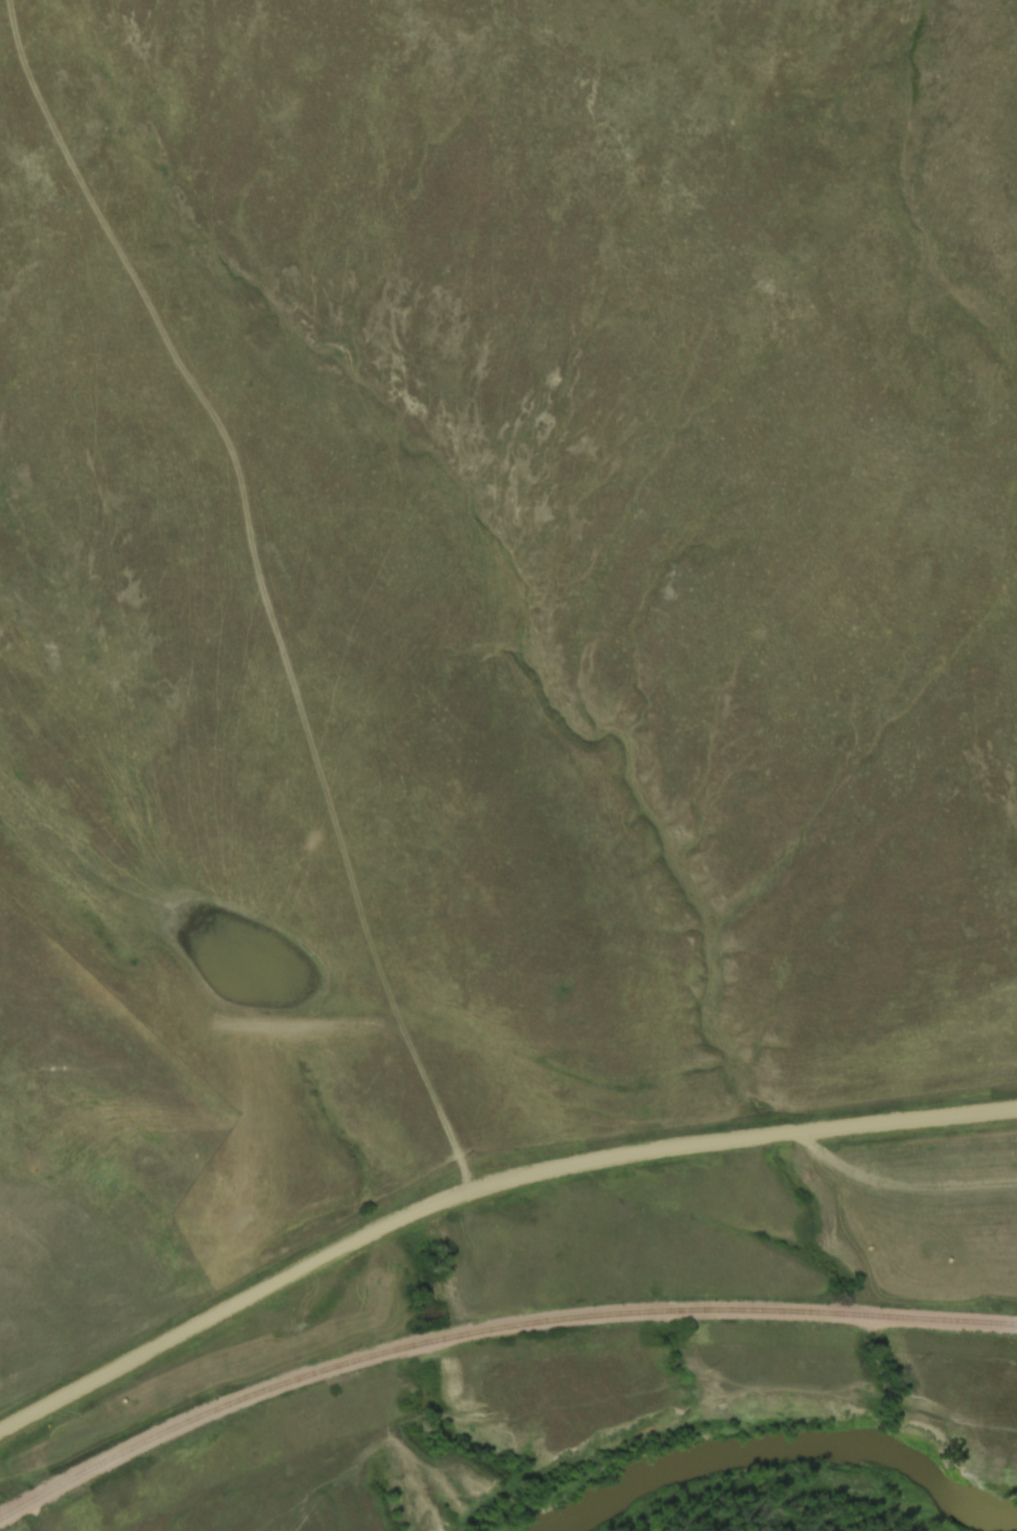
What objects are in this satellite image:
road: (482, 1190)
railway: (490, 1329)
river: (793, 1445)

